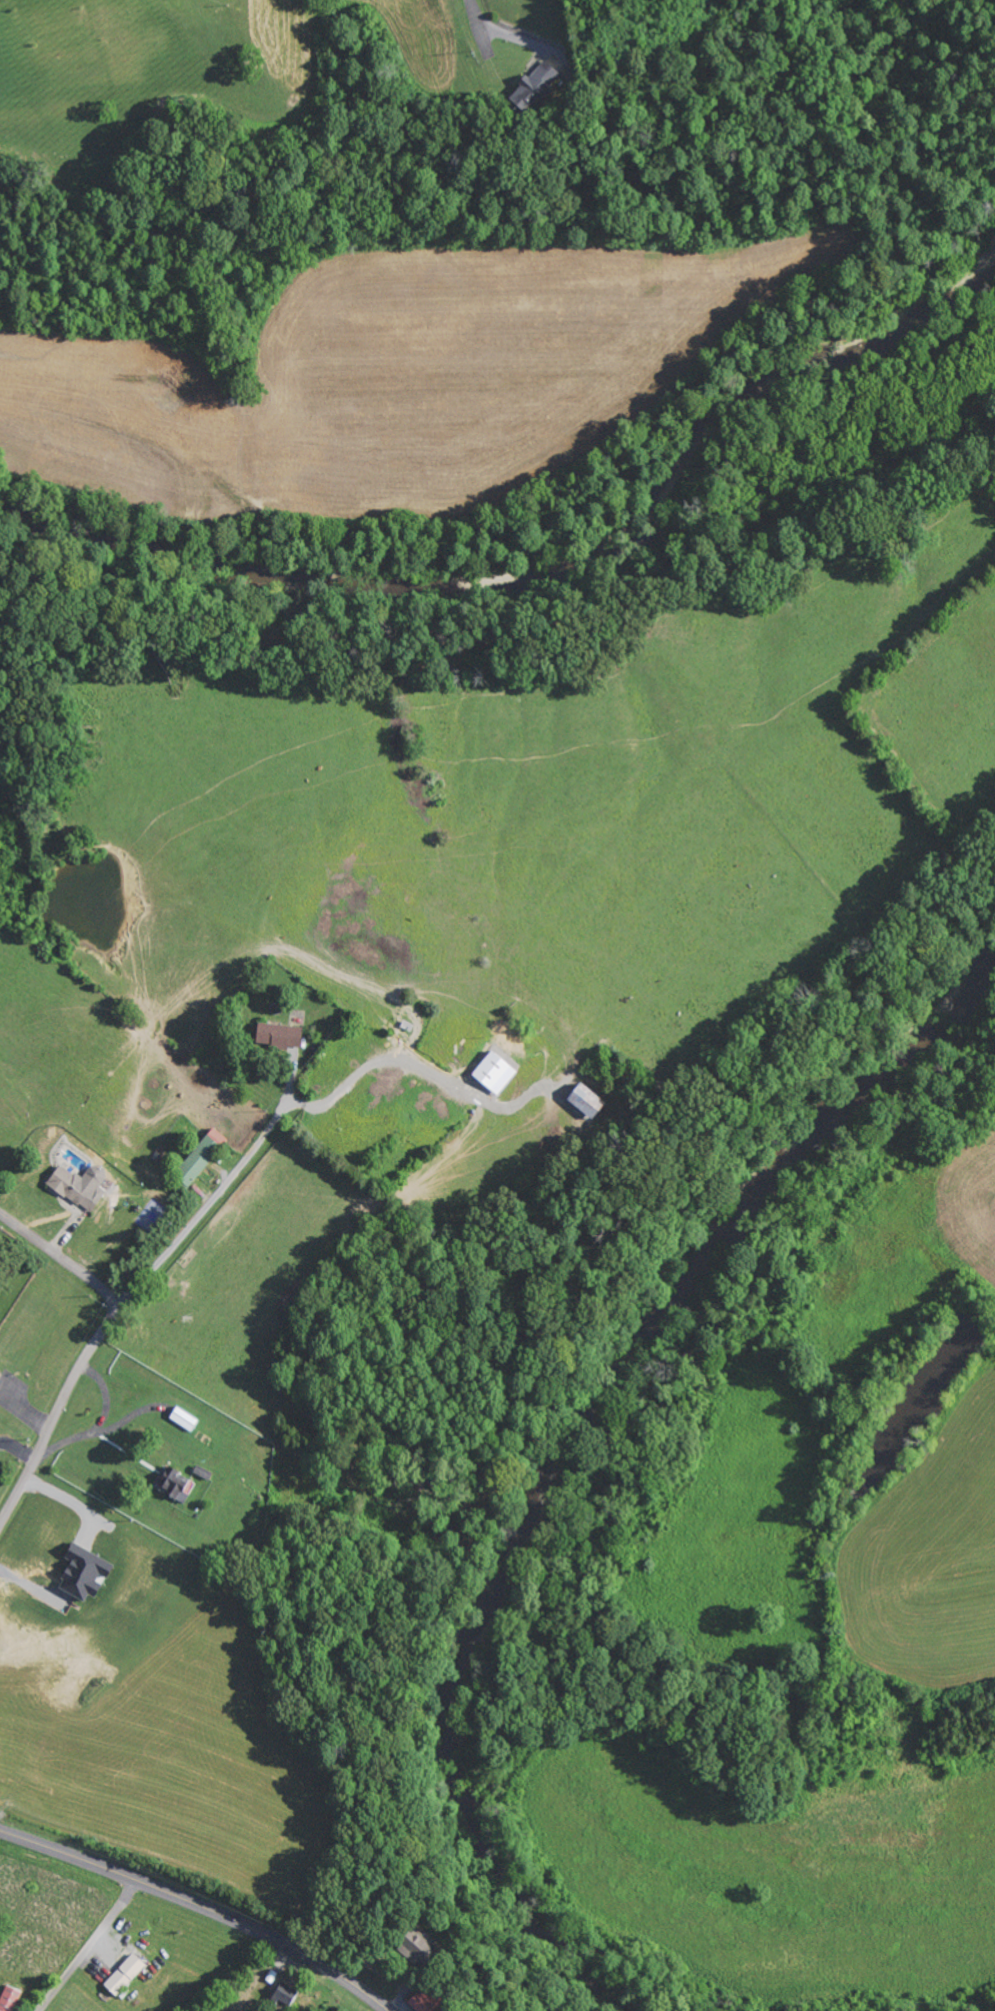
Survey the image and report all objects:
road: (473, 13)
building: (535, 87)
building: (279, 1034)
building: (485, 1070)
building: (584, 1100)
building: (200, 1156)
building: (80, 1185)
road: (203, 1206)
road: (61, 1257)
building: (0, 1372)
road: (55, 1413)
building: (173, 1483)
building: (83, 1572)
road: (2, 1850)
road: (199, 1908)
building: (418, 1944)
building: (124, 1975)
building: (285, 1994)
building: (9, 1999)
building: (419, 2004)

